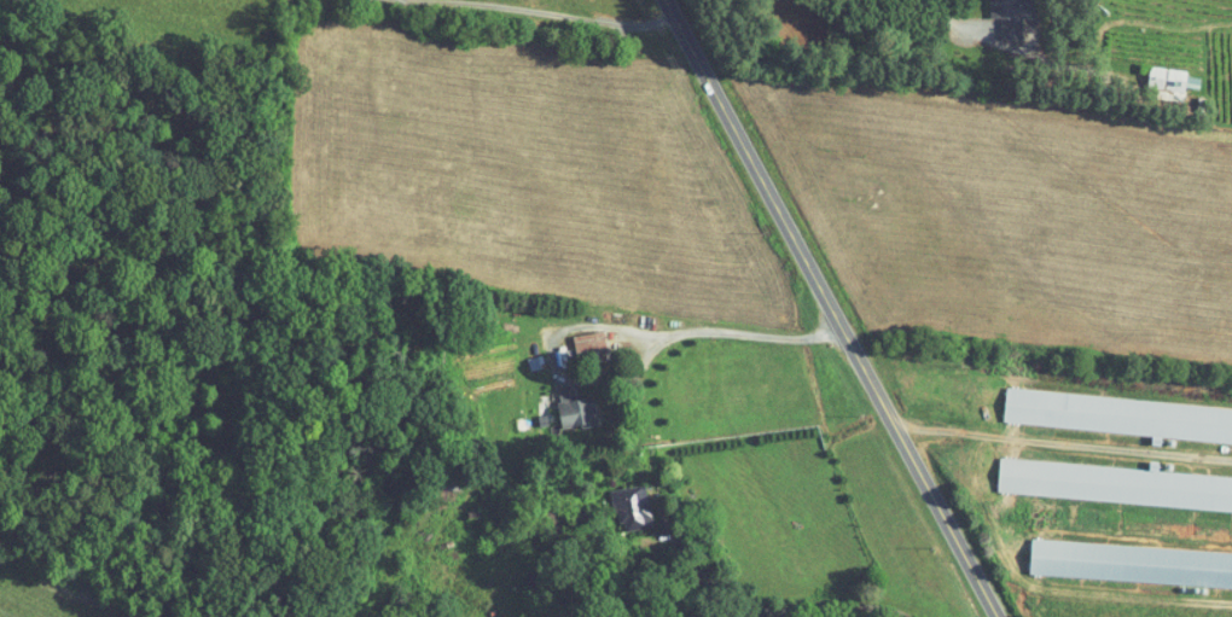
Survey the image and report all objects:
building: (998, 12)
road: (917, 18)
building: (1156, 75)
road: (836, 308)
building: (576, 334)
building: (562, 401)
building: (1117, 415)
road: (1065, 443)
road: (647, 468)
building: (1116, 485)
building: (618, 500)
building: (1131, 564)

